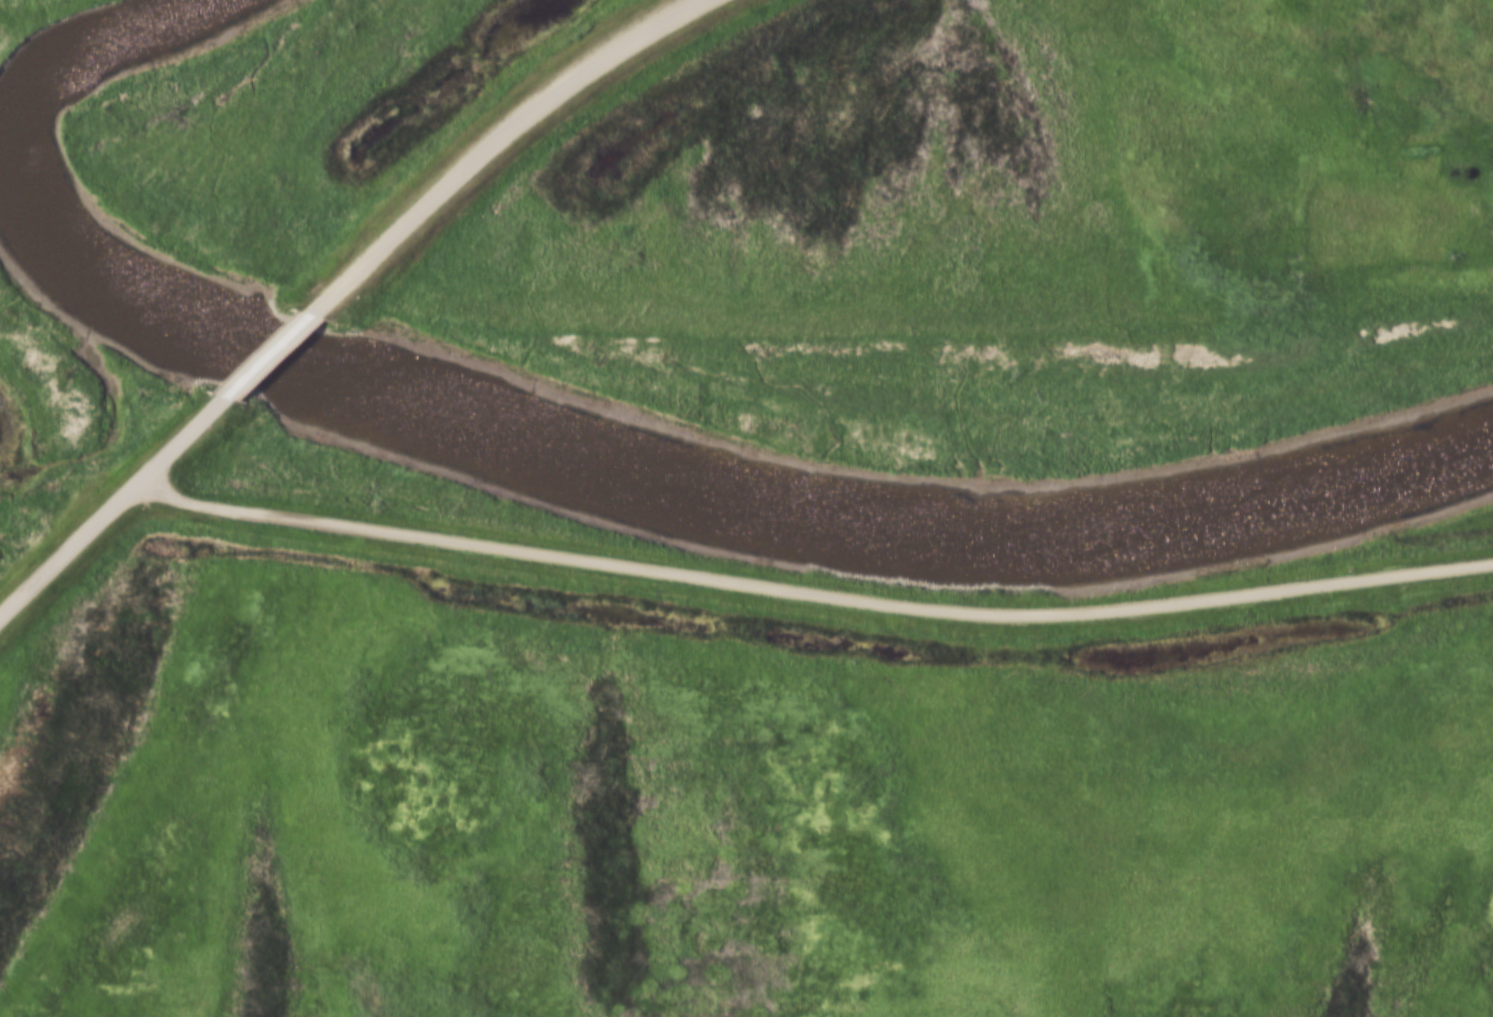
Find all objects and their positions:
road: (486, 144)
road: (263, 359)
river: (576, 469)
road: (109, 503)
road: (813, 589)

